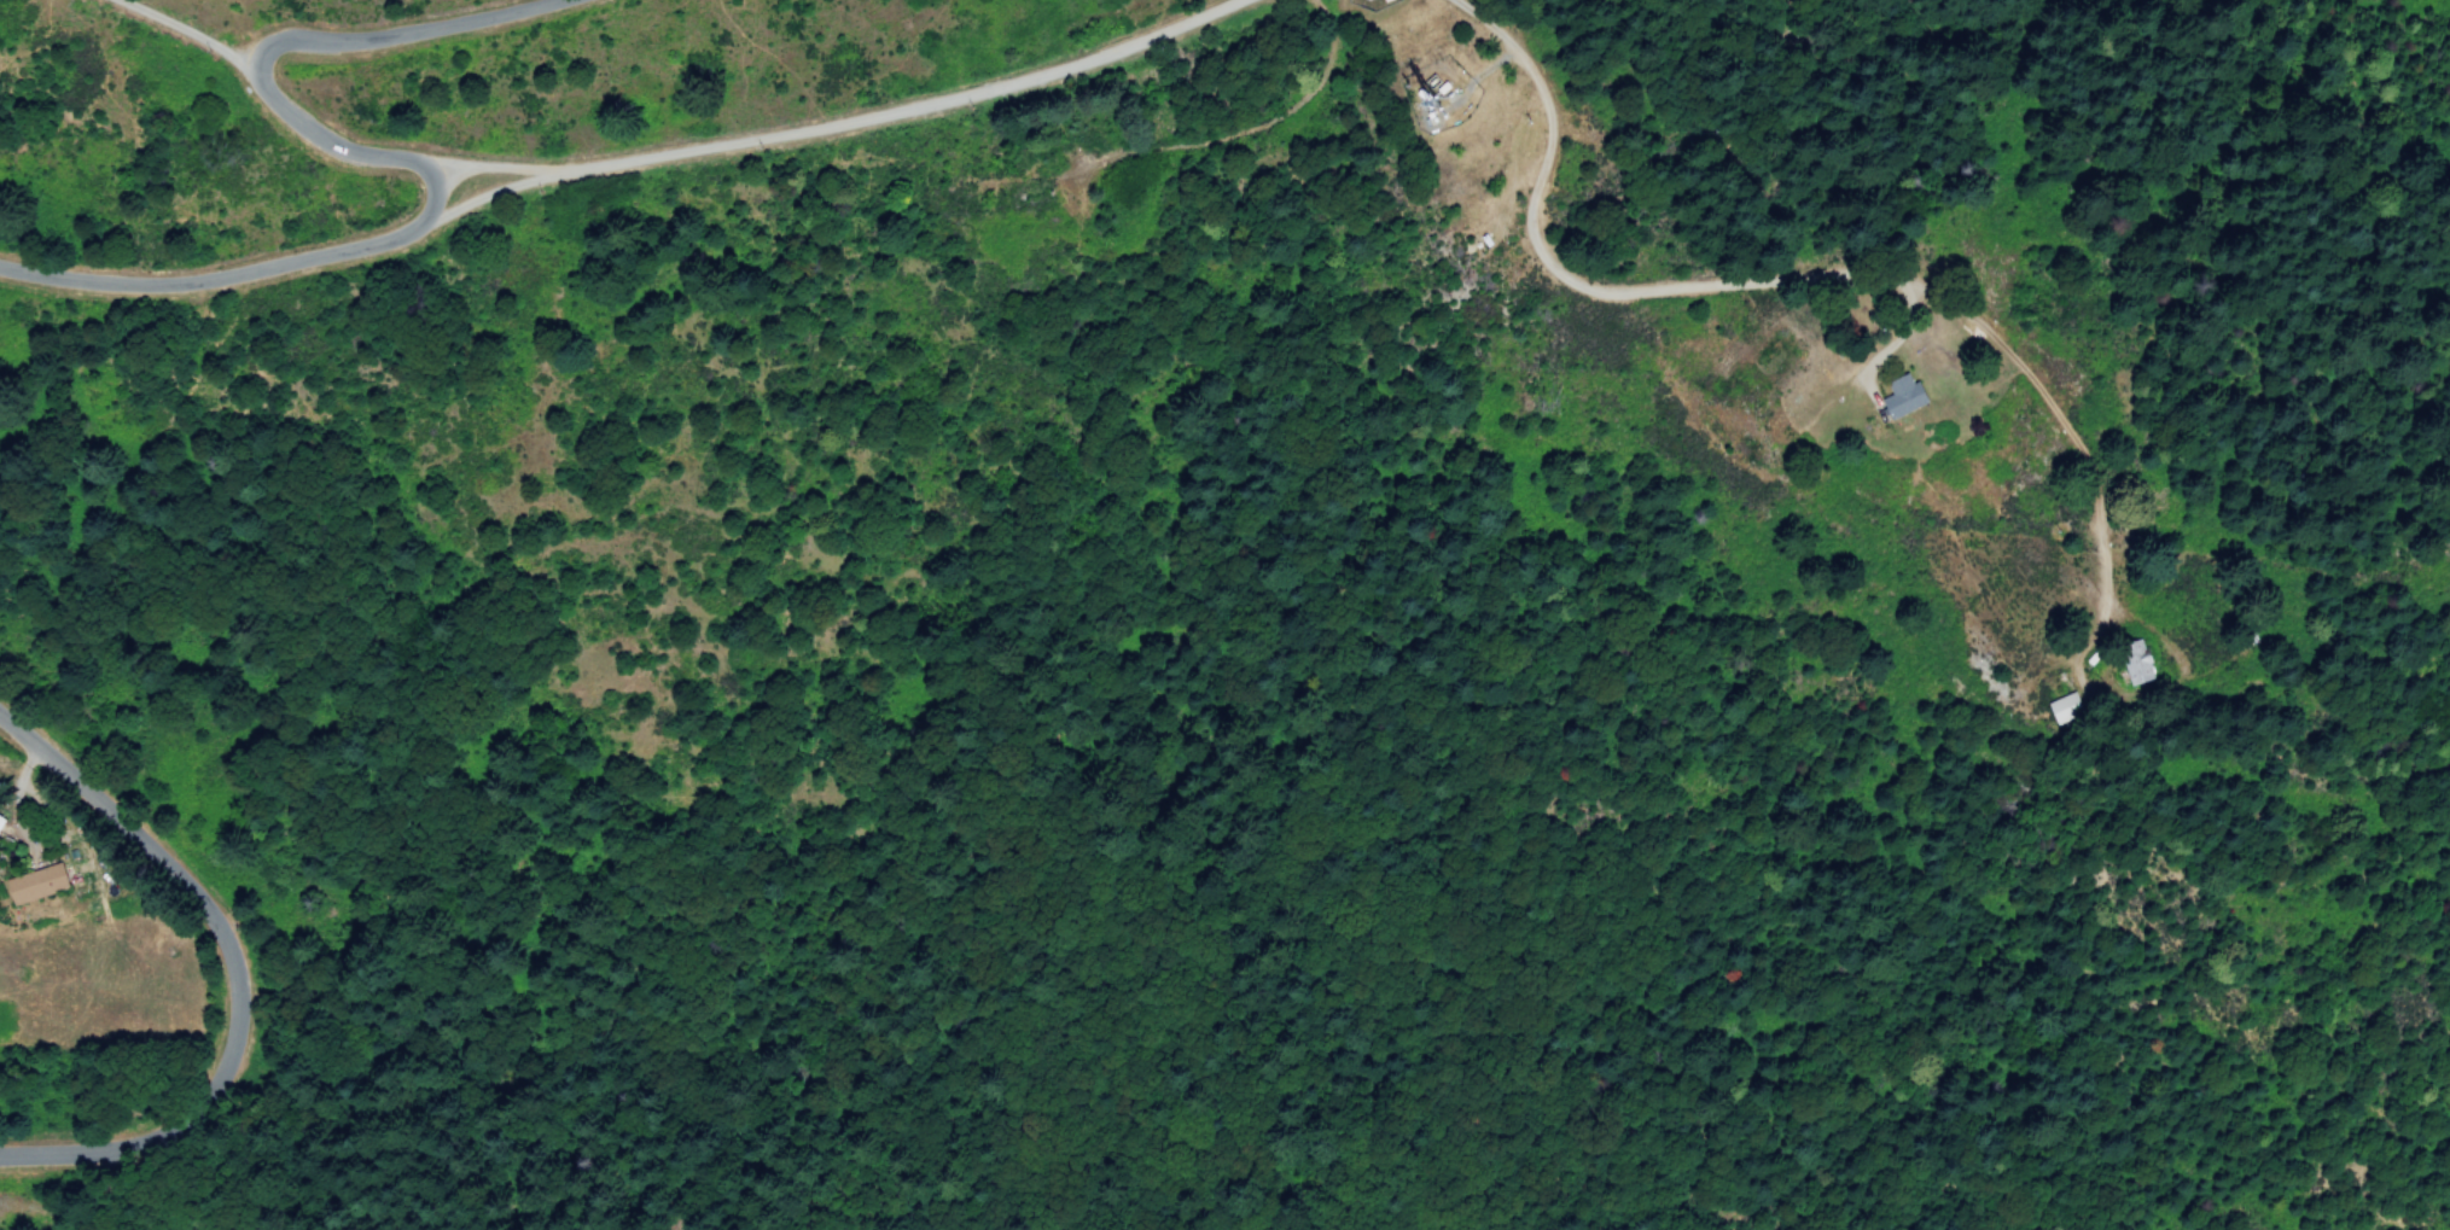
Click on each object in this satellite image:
road: (186, 33)
road: (260, 59)
road: (895, 116)
road: (268, 269)
building: (1902, 397)
building: (2138, 666)
building: (35, 885)
road: (232, 972)

